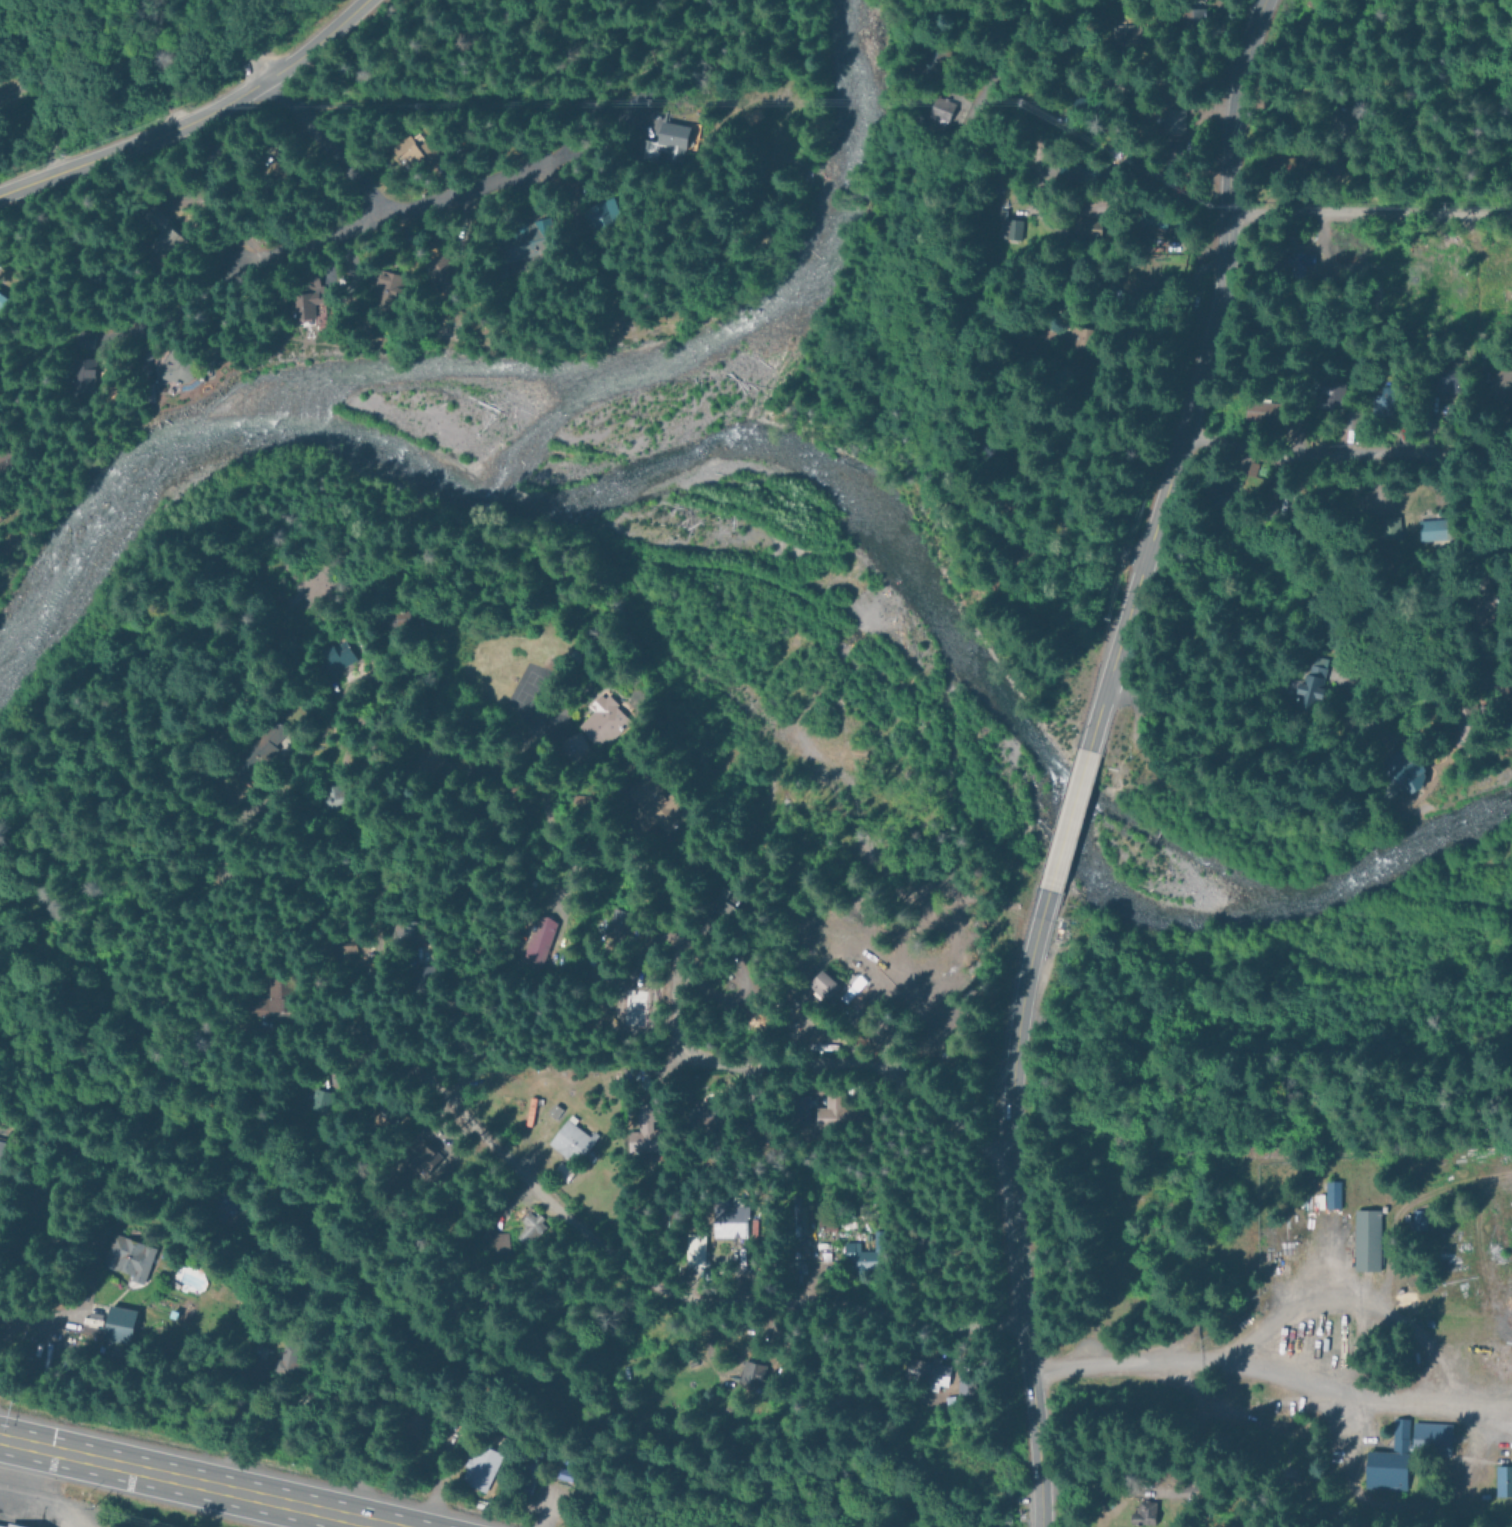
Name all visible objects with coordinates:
building: (1187, 19)
building: (1120, 30)
road: (234, 42)
road: (38, 87)
building: (936, 109)
road: (188, 113)
building: (1165, 117)
building: (1337, 119)
building: (665, 144)
road: (1104, 148)
building: (407, 150)
building: (1272, 166)
building: (1078, 171)
road: (415, 204)
road: (166, 206)
road: (1369, 213)
building: (600, 215)
building: (1148, 218)
building: (999, 225)
building: (1072, 225)
building: (1083, 226)
building: (156, 236)
building: (530, 240)
building: (1286, 260)
building: (1162, 264)
building: (438, 269)
road: (196, 275)
building: (388, 290)
building: (0, 302)
building: (309, 303)
building: (1072, 336)
building: (76, 340)
road: (904, 348)
river: (505, 360)
building: (79, 374)
road: (1202, 379)
building: (1436, 384)
building: (1496, 388)
building: (1332, 396)
building: (1379, 397)
building: (1259, 412)
river: (543, 421)
road: (1348, 455)
building: (1224, 484)
building: (1386, 527)
building: (1425, 527)
building: (1478, 605)
river: (942, 610)
building: (402, 618)
building: (1181, 632)
building: (341, 656)
building: (1305, 683)
building: (1505, 717)
building: (606, 721)
building: (1460, 735)
building: (263, 752)
road: (1310, 755)
building: (1398, 772)
building: (336, 796)
building: (661, 802)
road: (1067, 818)
road: (641, 861)
building: (621, 923)
building: (541, 940)
building: (426, 977)
building: (824, 984)
building: (276, 998)
road: (880, 1070)
building: (320, 1103)
building: (835, 1110)
building: (711, 1115)
building: (646, 1129)
building: (573, 1141)
building: (1, 1149)
building: (425, 1160)
building: (1333, 1194)
road: (1014, 1206)
building: (1419, 1220)
building: (730, 1222)
building: (529, 1228)
building: (1367, 1240)
building: (500, 1244)
building: (695, 1249)
building: (865, 1256)
building: (128, 1257)
road: (670, 1289)
building: (120, 1324)
road: (105, 1357)
building: (286, 1360)
road: (29, 1363)
road: (1271, 1368)
building: (930, 1372)
building: (751, 1375)
building: (965, 1386)
traffic signals: (13, 1439)
building: (1405, 1452)
road: (8, 1457)
building: (481, 1468)
building: (565, 1475)
road: (437, 1479)
road: (199, 1481)
building: (1504, 1481)
road: (40, 1498)
road: (547, 1502)
building: (1144, 1513)
building: (16, 1523)

